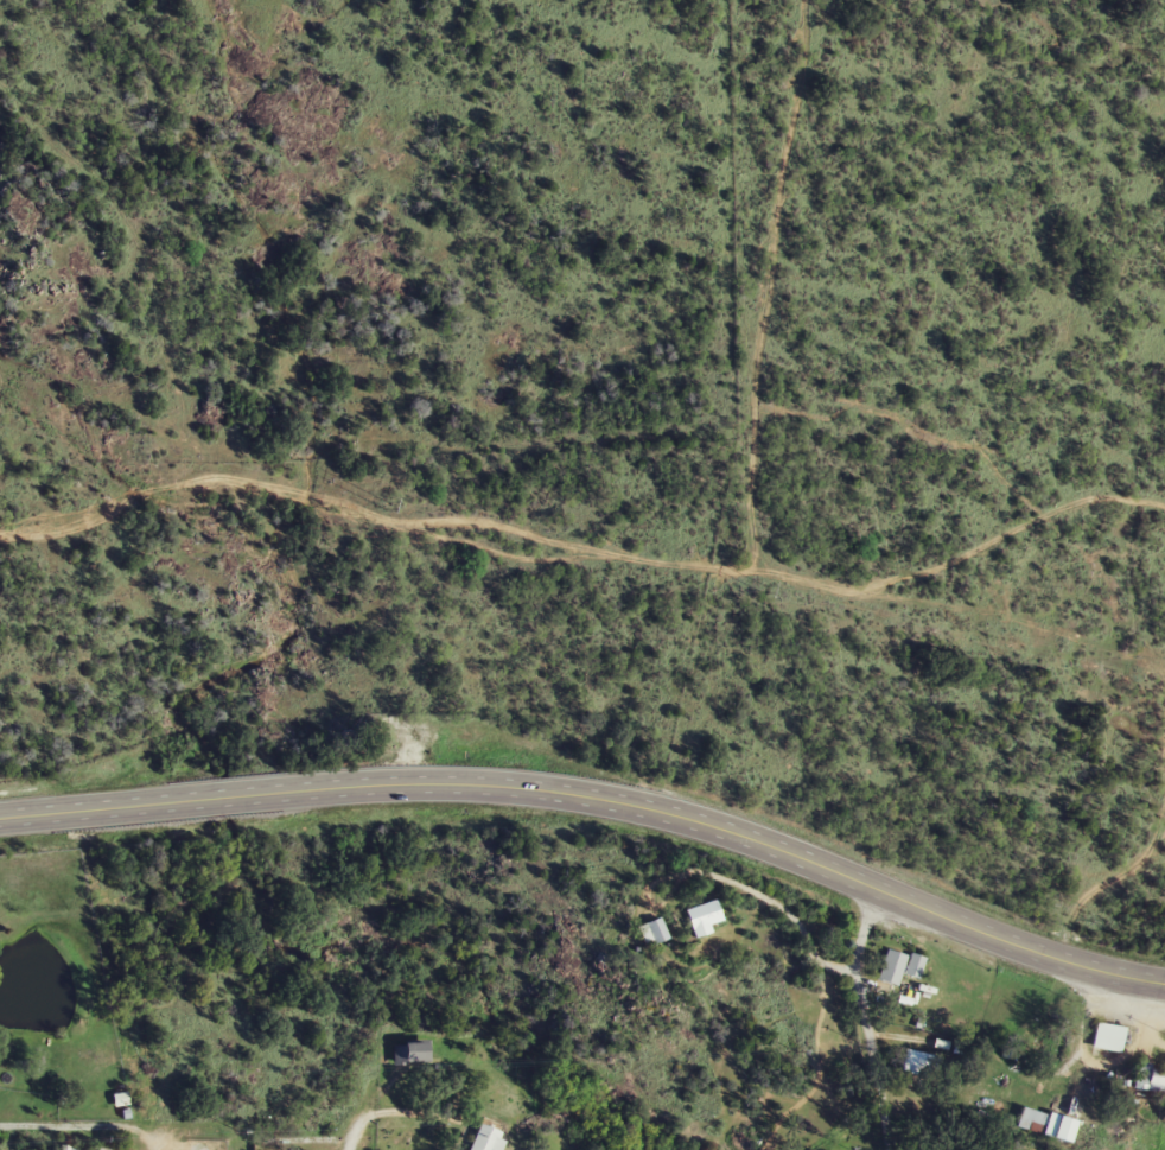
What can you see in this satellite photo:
road: (751, 496)
power tower: (383, 503)
power tower: (760, 586)
road: (597, 796)
road: (1131, 888)
building: (705, 914)
building: (655, 932)
building: (897, 967)
road: (1144, 1015)
road: (862, 1018)
building: (1110, 1037)
road: (822, 1050)
building: (412, 1051)
road: (425, 1059)
building: (913, 1069)
building: (1158, 1080)
road: (91, 1120)
building: (1049, 1124)
road: (354, 1125)
building: (489, 1138)

